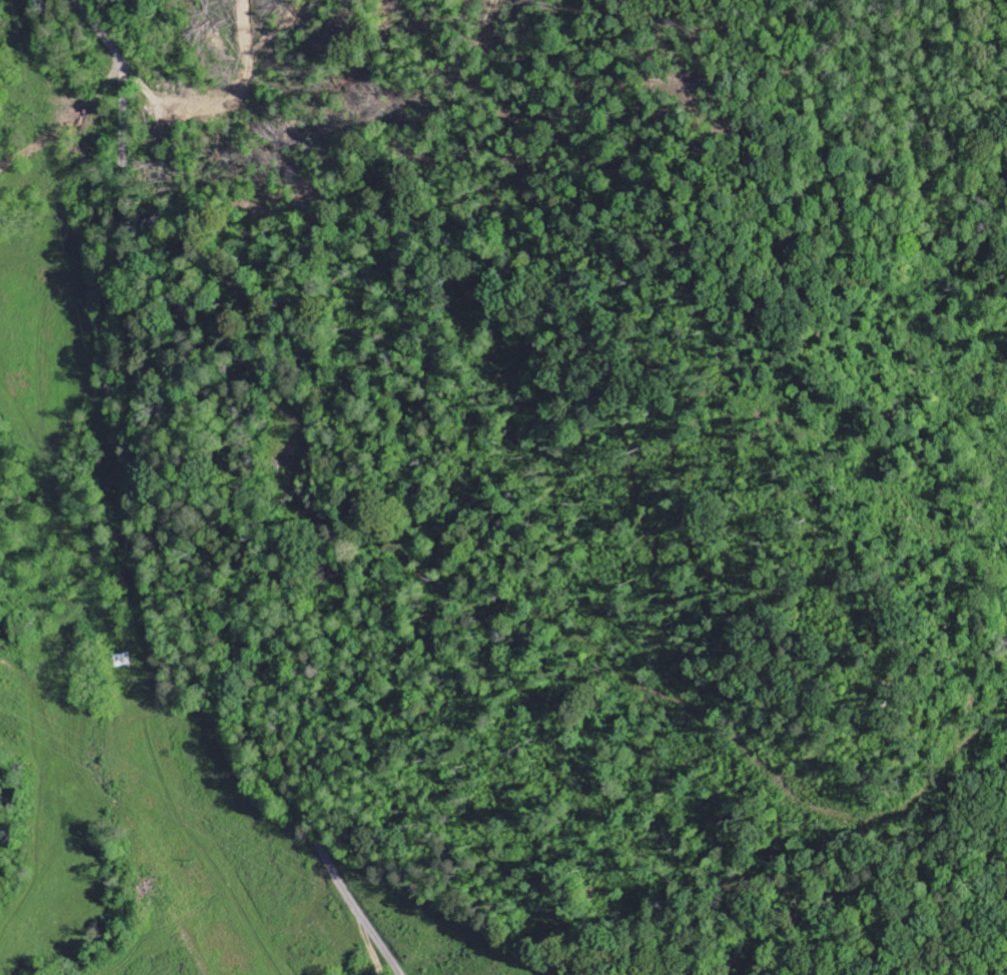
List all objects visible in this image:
road: (156, 510)

